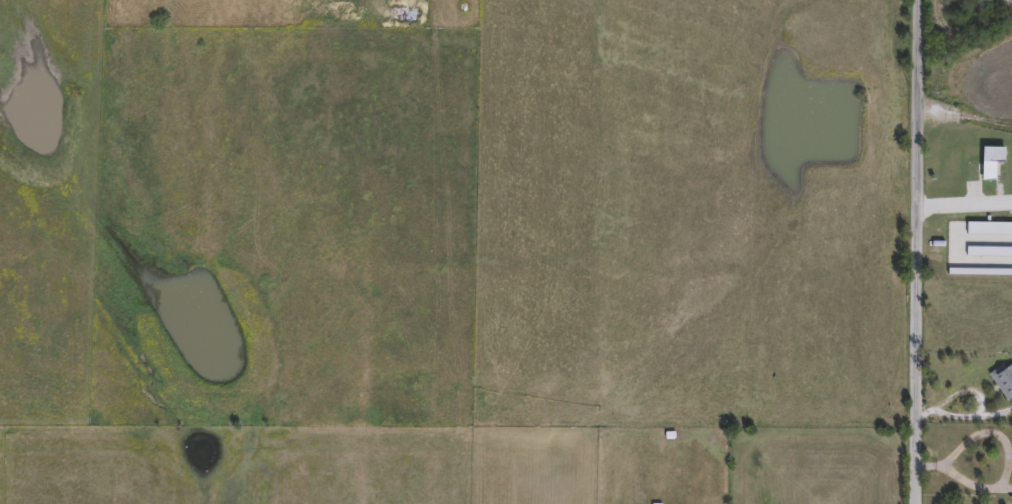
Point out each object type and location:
building: (992, 162)
road: (967, 205)
road: (922, 251)
building: (1003, 380)

